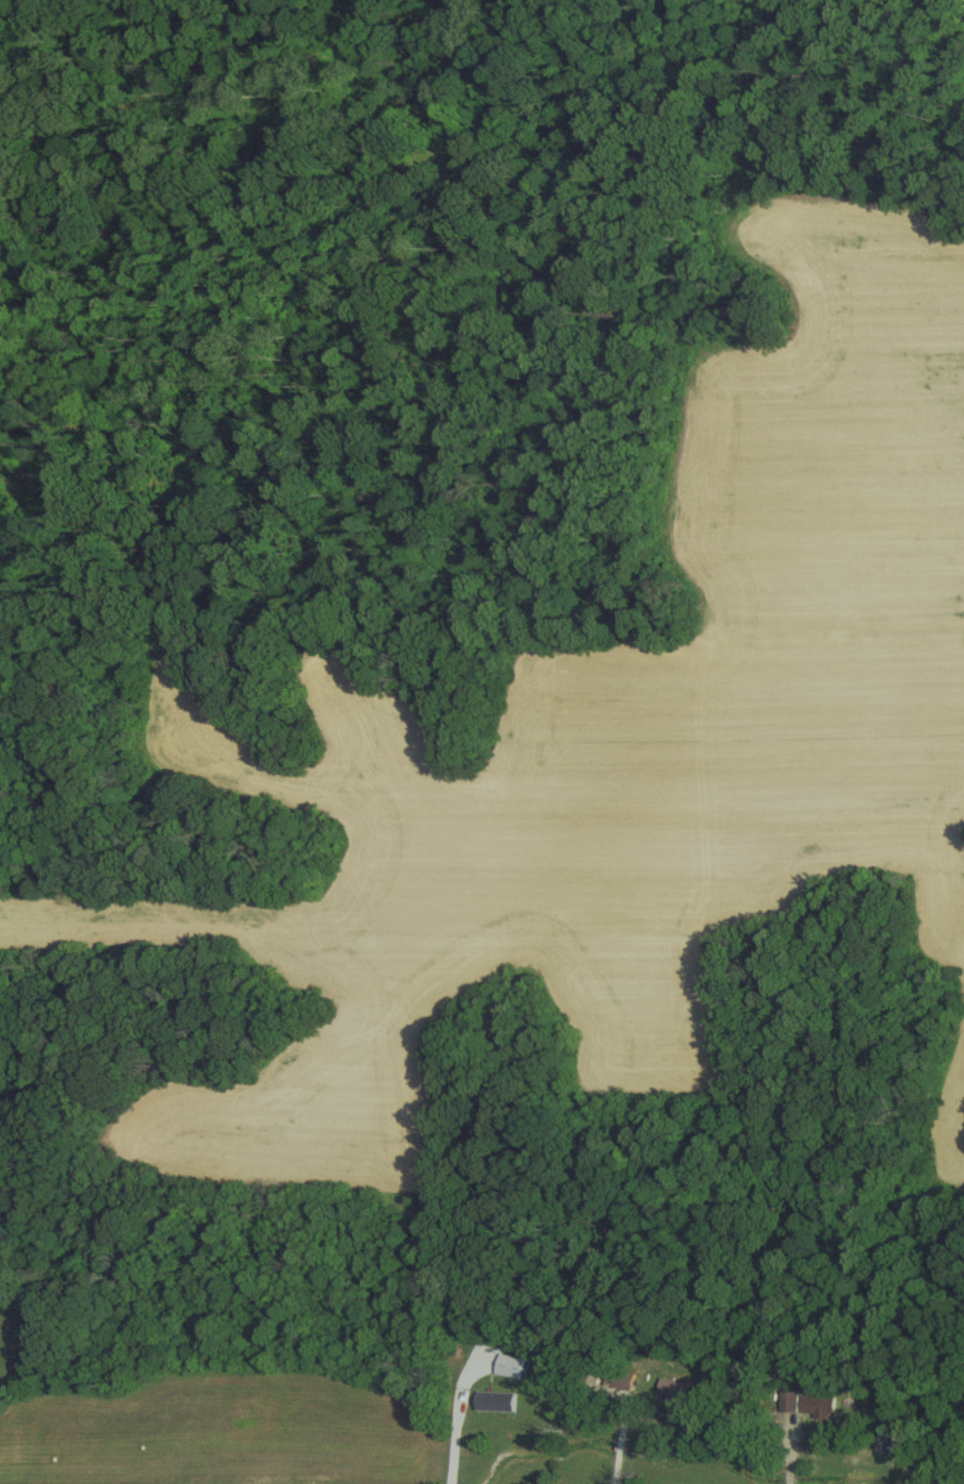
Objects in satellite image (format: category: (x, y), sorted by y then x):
building: (511, 1364)
building: (670, 1388)
building: (494, 1400)
building: (814, 1404)
road: (447, 1431)
road: (623, 1442)

